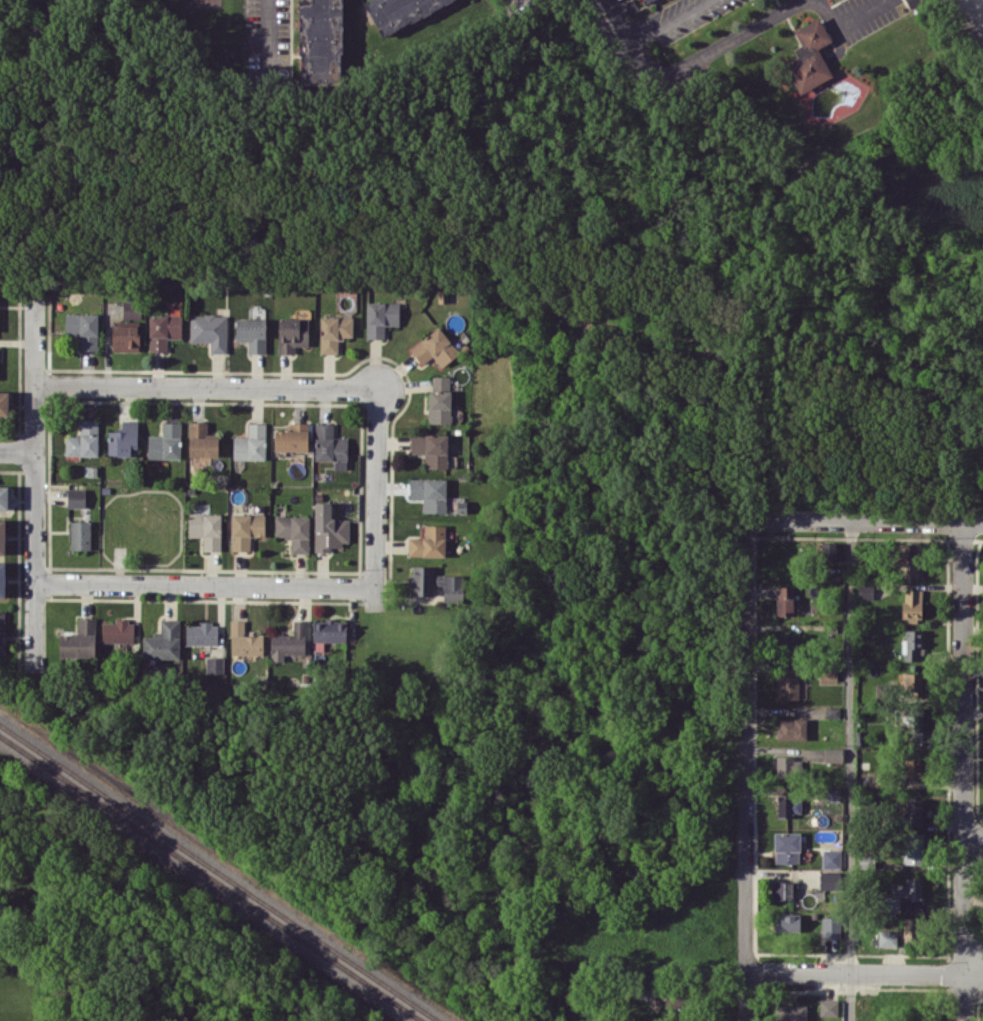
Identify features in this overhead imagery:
building: (644, 1)
building: (398, 11)
road: (616, 20)
road: (665, 20)
road: (753, 26)
road: (270, 34)
building: (320, 42)
building: (809, 56)
building: (131, 309)
building: (380, 318)
building: (83, 329)
building: (163, 330)
building: (209, 330)
building: (333, 332)
building: (252, 333)
building: (292, 334)
building: (125, 337)
building: (434, 348)
road: (205, 387)
building: (439, 399)
building: (4, 403)
building: (292, 437)
building: (83, 439)
building: (123, 439)
building: (165, 442)
building: (251, 442)
building: (200, 445)
building: (330, 445)
building: (431, 448)
road: (16, 450)
road: (33, 482)
road: (375, 488)
building: (429, 493)
building: (3, 497)
building: (76, 497)
road: (863, 519)
building: (329, 528)
building: (206, 529)
building: (246, 529)
building: (293, 531)
building: (80, 534)
building: (2, 537)
building: (428, 542)
building: (827, 550)
building: (903, 550)
building: (908, 567)
building: (2, 579)
building: (422, 580)
road: (203, 585)
building: (450, 586)
building: (864, 591)
building: (784, 600)
building: (911, 604)
building: (329, 630)
building: (118, 631)
building: (2, 633)
building: (202, 633)
building: (79, 640)
building: (244, 640)
building: (163, 641)
building: (289, 642)
building: (911, 644)
building: (214, 664)
building: (827, 674)
building: (911, 685)
building: (790, 686)
building: (880, 692)
building: (909, 722)
building: (789, 727)
building: (786, 765)
building: (913, 767)
road: (743, 769)
road: (849, 769)
road: (962, 771)
building: (830, 795)
building: (788, 805)
building: (913, 812)
road: (972, 838)
building: (786, 847)
building: (912, 848)
building: (831, 858)
building: (866, 861)
railway: (218, 873)
railway: (209, 878)
building: (829, 880)
building: (782, 889)
building: (899, 894)
road: (973, 901)
building: (788, 922)
building: (830, 926)
building: (911, 928)
building: (887, 938)
road: (863, 972)
building: (828, 1007)
building: (790, 1012)

